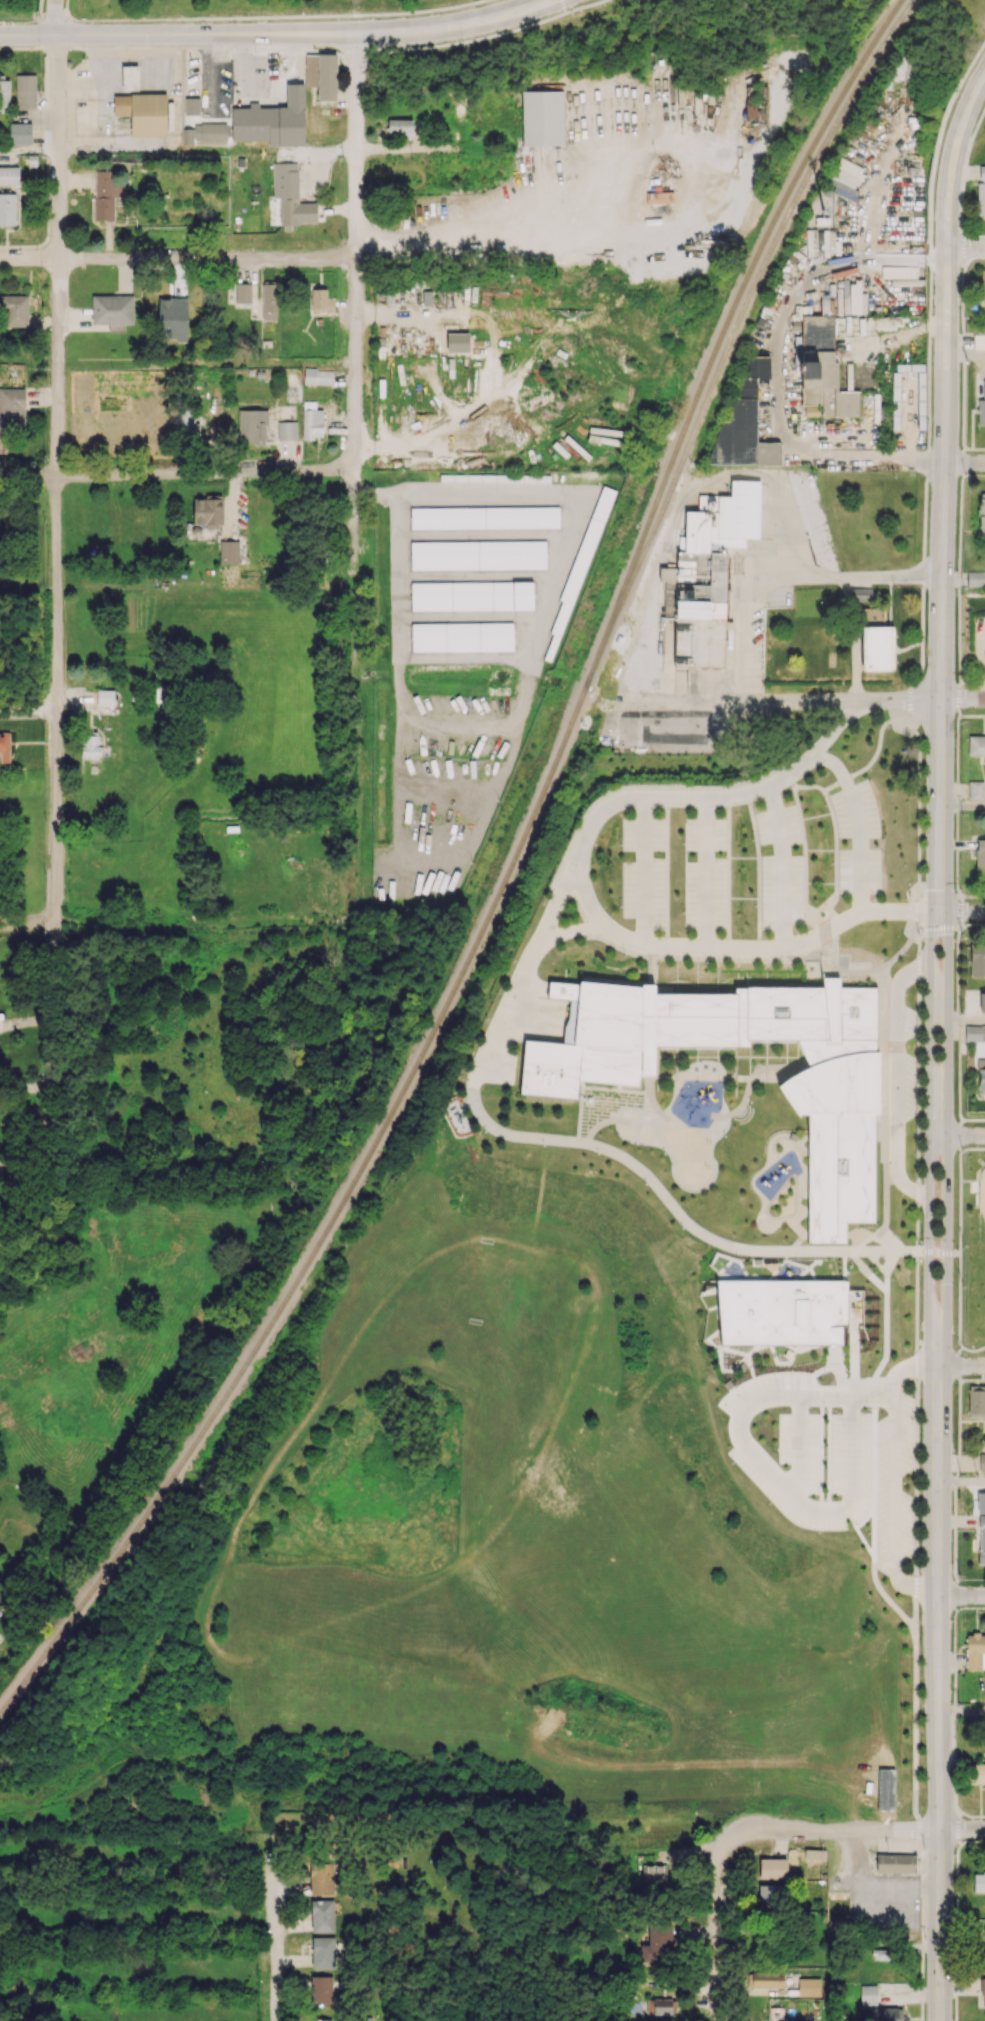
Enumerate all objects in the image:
park: (246, 9)
road: (432, 15)
road: (55, 18)
road: (458, 28)
road: (178, 35)
traffic signals: (186, 35)
railway: (883, 47)
building: (900, 68)
road: (976, 71)
building: (321, 74)
building: (129, 75)
building: (25, 91)
building: (4, 95)
building: (191, 105)
building: (755, 112)
building: (143, 113)
building: (542, 117)
road: (975, 120)
building: (256, 124)
building: (400, 125)
building: (210, 131)
building: (20, 133)
road: (119, 150)
road: (29, 151)
road: (960, 157)
building: (9, 175)
road: (959, 184)
building: (981, 191)
building: (106, 193)
building: (291, 195)
building: (7, 209)
road: (959, 214)
road: (674, 224)
road: (960, 246)
road: (354, 248)
road: (916, 248)
road: (176, 258)
building: (982, 285)
building: (243, 292)
road: (960, 294)
building: (269, 300)
building: (321, 301)
building: (14, 310)
building: (112, 311)
road: (963, 339)
road: (966, 356)
road: (206, 363)
building: (821, 368)
building: (318, 376)
road: (778, 381)
railway: (712, 386)
road: (963, 397)
building: (981, 407)
building: (12, 408)
building: (312, 420)
building: (744, 422)
building: (252, 426)
building: (287, 430)
road: (962, 461)
road: (887, 462)
road: (176, 472)
building: (981, 512)
building: (484, 517)
building: (229, 551)
building: (478, 554)
building: (582, 559)
building: (707, 572)
road: (790, 575)
road: (959, 578)
building: (976, 578)
building: (860, 593)
road: (965, 593)
building: (472, 595)
road: (58, 596)
building: (462, 636)
building: (877, 648)
building: (105, 697)
road: (959, 697)
road: (799, 701)
road: (29, 708)
building: (976, 745)
building: (90, 746)
building: (4, 747)
building: (975, 789)
railway: (540, 799)
road: (957, 803)
road: (965, 807)
road: (858, 822)
building: (980, 853)
road: (778, 865)
road: (645, 869)
road: (704, 871)
road: (585, 890)
road: (972, 895)
road: (984, 895)
road: (960, 910)
road: (965, 912)
road: (971, 923)
road: (983, 923)
road: (28, 924)
road: (570, 929)
building: (977, 959)
road: (957, 966)
building: (982, 1001)
road: (957, 1017)
road: (965, 1020)
building: (973, 1033)
road: (945, 1048)
road: (959, 1071)
building: (981, 1076)
road: (24, 1086)
building: (832, 1105)
road: (972, 1119)
road: (959, 1134)
road: (965, 1135)
road: (589, 1144)
road: (972, 1149)
park: (982, 1233)
road: (960, 1237)
park: (972, 1250)
building: (781, 1311)
road: (962, 1347)
road: (957, 1364)
road: (964, 1365)
road: (902, 1367)
road: (972, 1378)
building: (976, 1401)
road: (958, 1425)
building: (836, 1426)
building: (982, 1462)
road: (773, 1477)
road: (954, 1479)
road: (964, 1480)
road: (893, 1502)
building: (980, 1502)
road: (954, 1533)
building: (981, 1544)
road: (955, 1593)
road: (964, 1595)
building: (1, 1606)
road: (970, 1607)
railway: (55, 1640)
building: (974, 1650)
road: (954, 1654)
road: (952, 1709)
road: (963, 1711)
road: (952, 1740)
building: (977, 1773)
road: (953, 1776)
road: (955, 1804)
road: (975, 1814)
road: (958, 1827)
road: (863, 1830)
road: (968, 1840)
building: (815, 1854)
building: (645, 1859)
road: (957, 1860)
building: (896, 1863)
building: (773, 1868)
building: (654, 1872)
building: (321, 1878)
road: (878, 1879)
building: (979, 1882)
road: (957, 1885)
building: (772, 1895)
road: (957, 1900)
building: (322, 1915)
road: (716, 1921)
building: (984, 1936)
building: (657, 1943)
road: (956, 1946)
road: (279, 1947)
building: (322, 1952)
building: (767, 1978)
building: (808, 1986)
building: (321, 1989)
building: (983, 1990)
building: (868, 1994)
road: (956, 2003)
building: (661, 2006)
building: (885, 2014)
building: (320, 2019)

